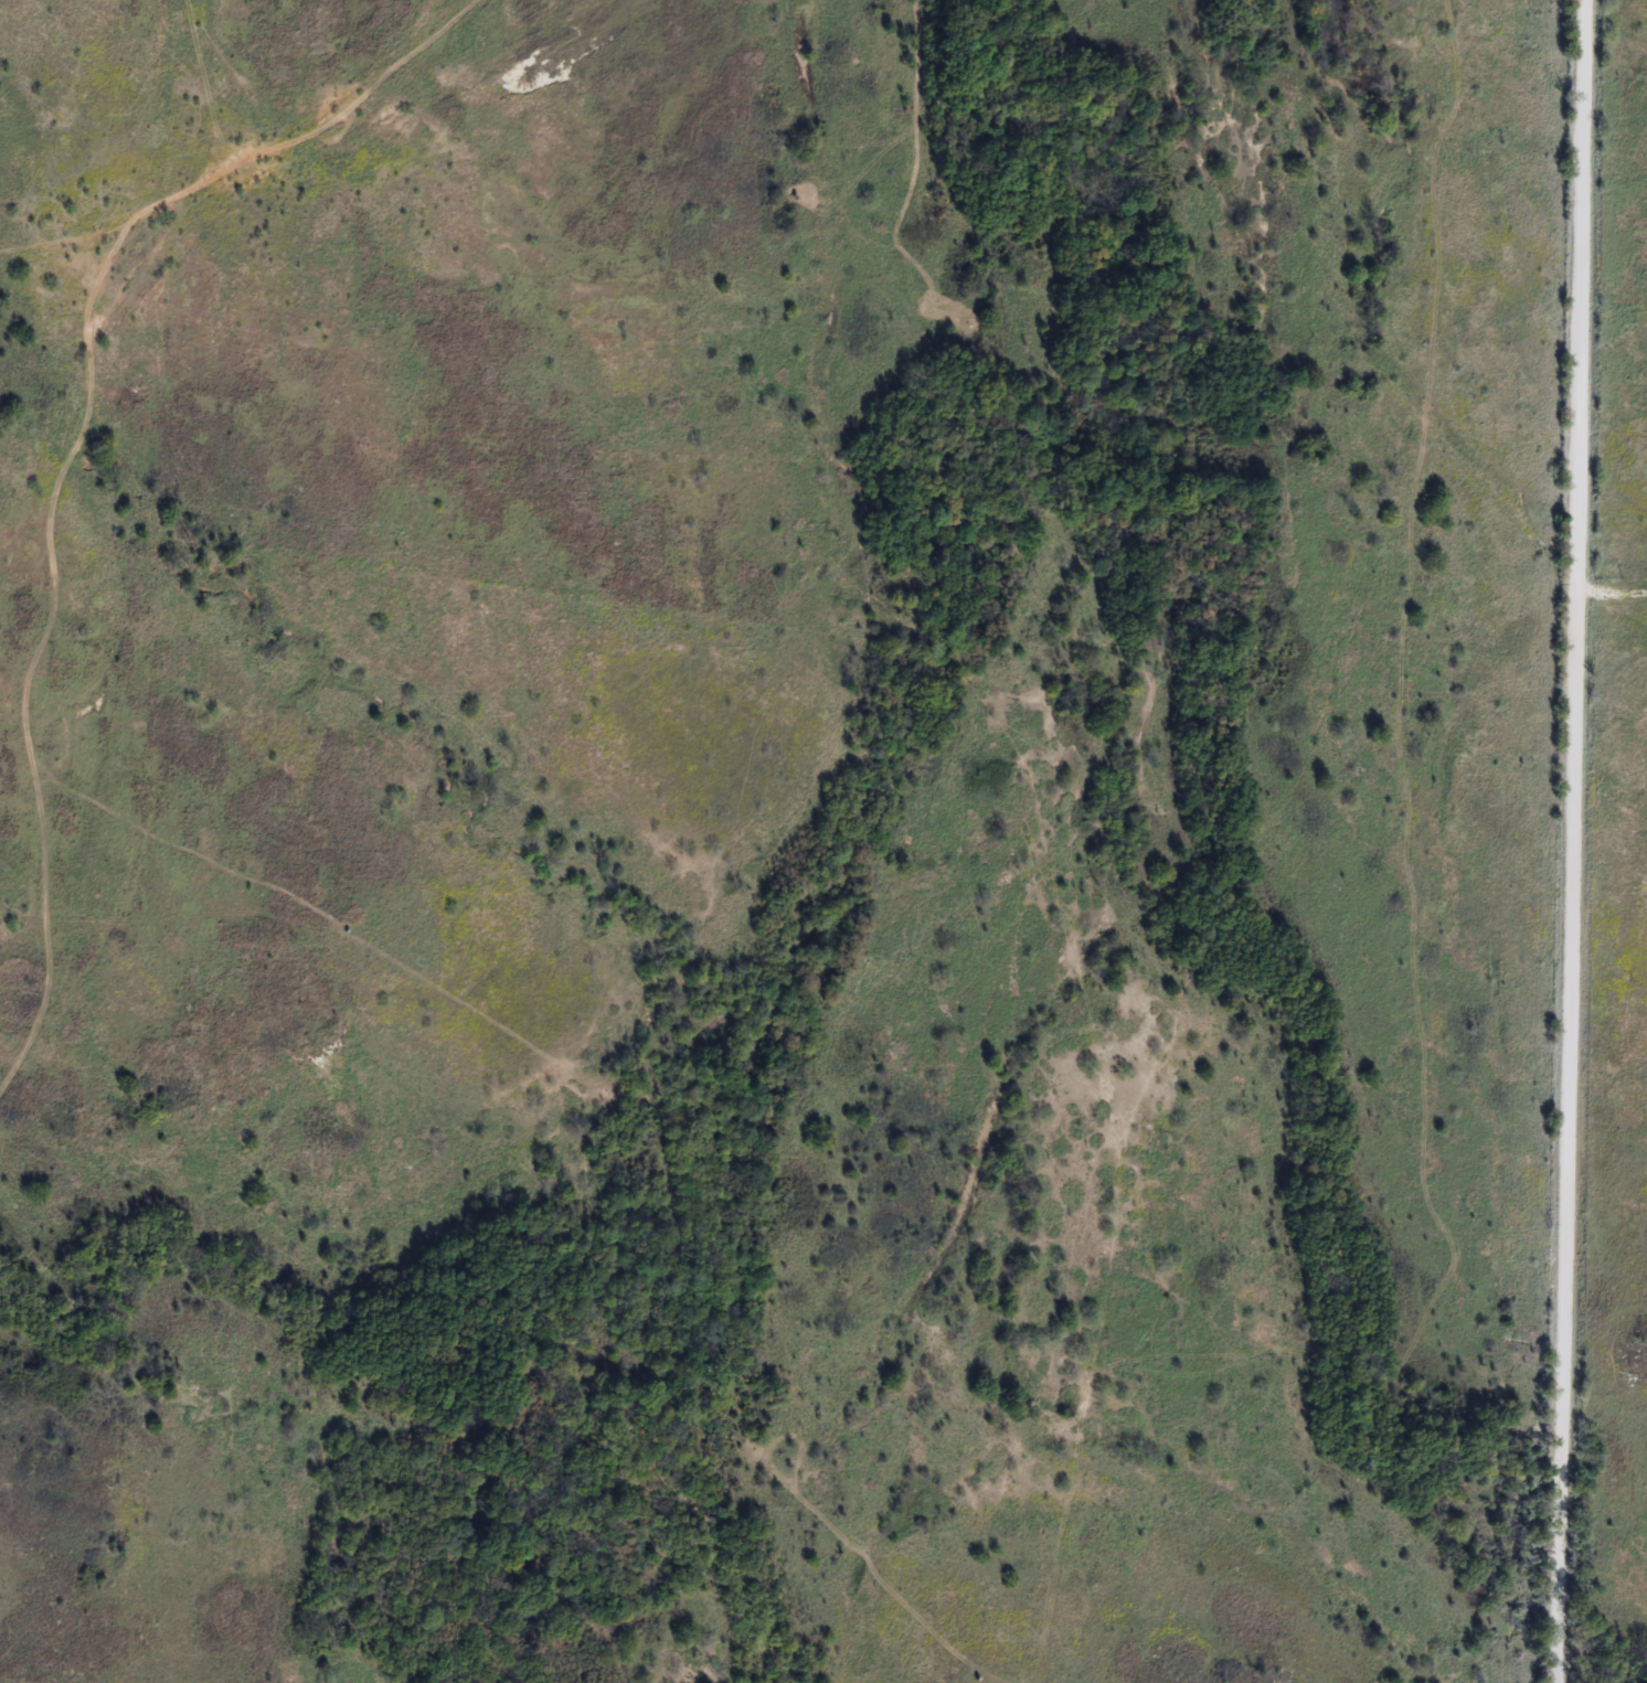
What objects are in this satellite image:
road: (35, 450)
road: (1576, 841)

